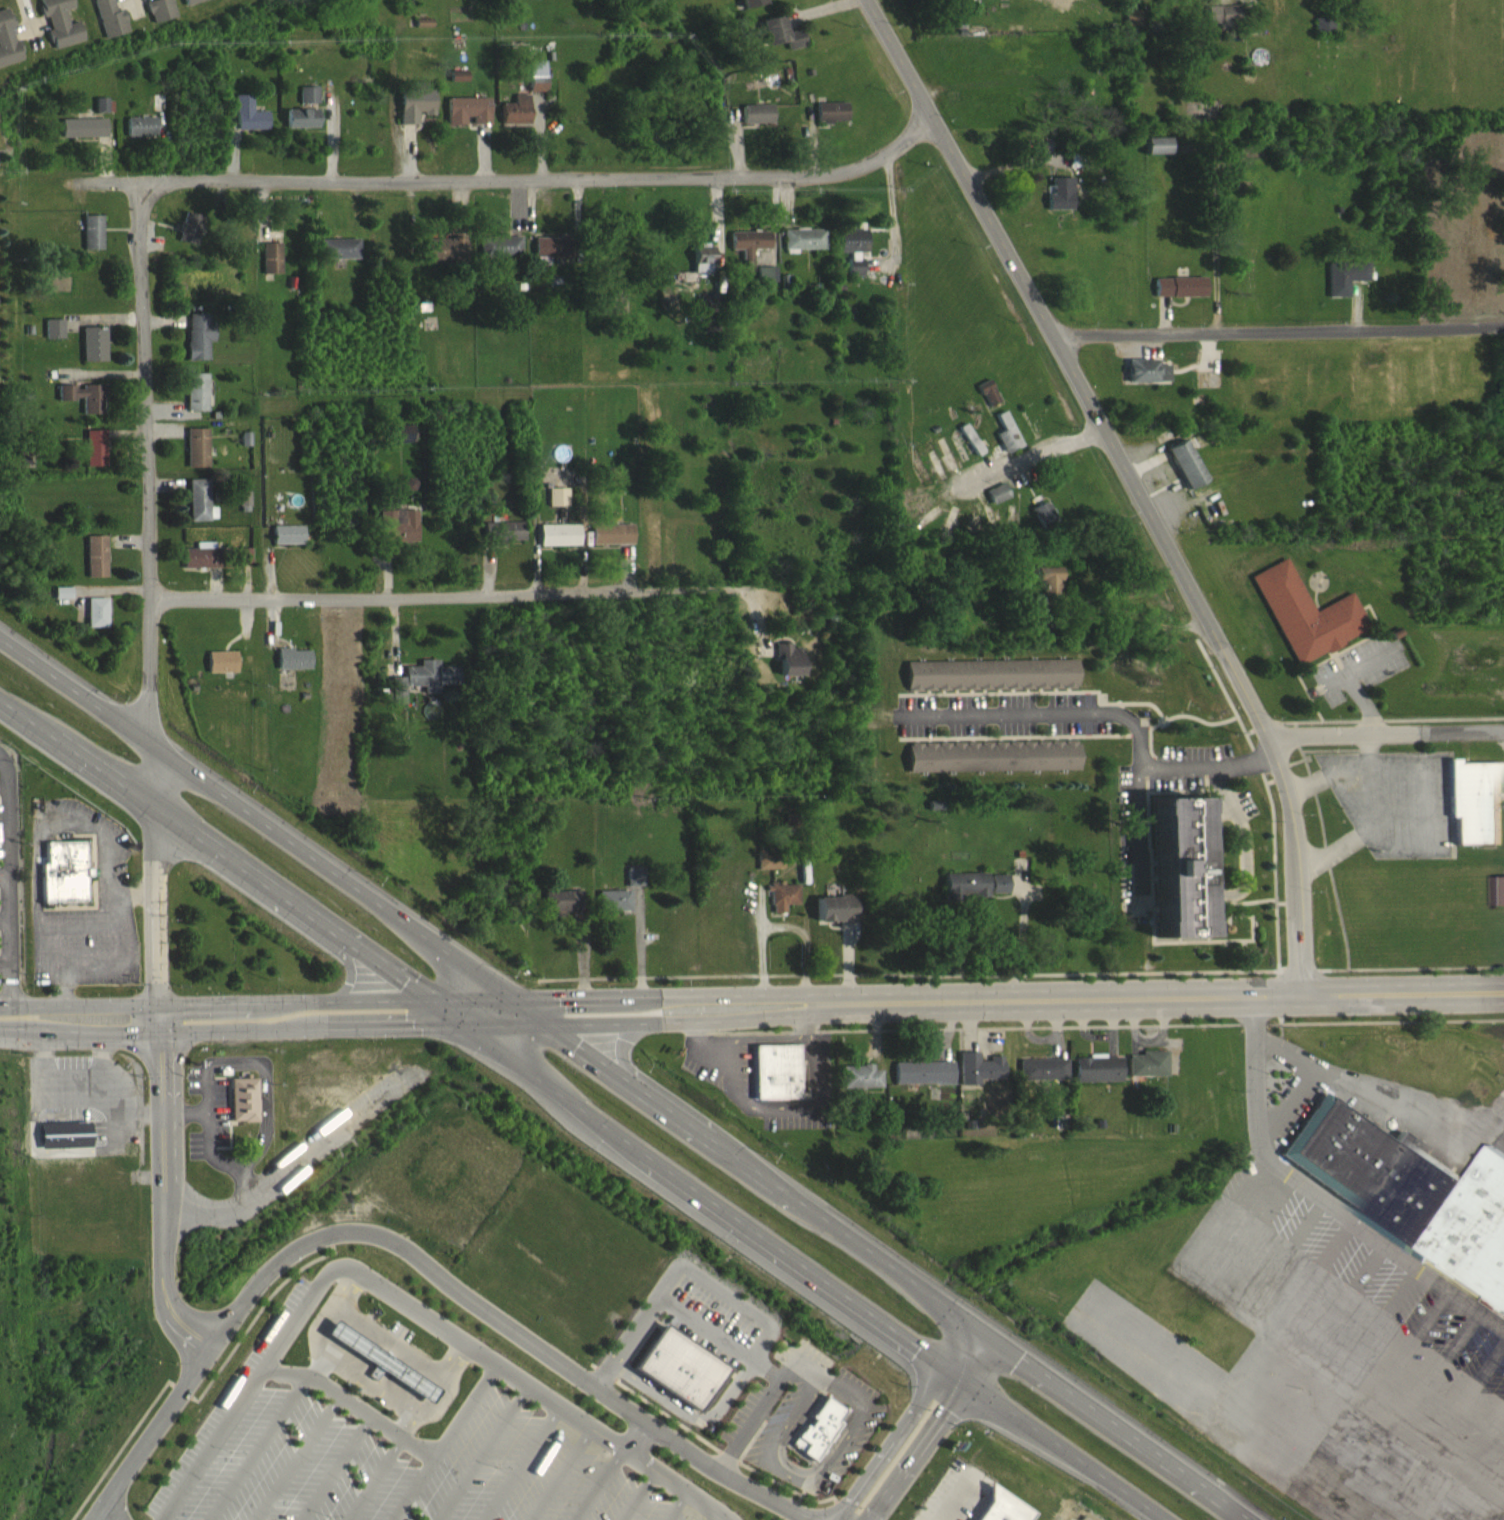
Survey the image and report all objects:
building: (969, 1)
building: (194, 5)
building: (749, 8)
building: (158, 16)
building: (106, 23)
building: (1222, 25)
building: (1131, 27)
building: (57, 29)
building: (1323, 35)
building: (779, 44)
building: (7, 51)
building: (534, 85)
building: (456, 86)
building: (306, 105)
building: (412, 112)
building: (155, 113)
building: (99, 115)
building: (466, 121)
building: (514, 121)
building: (830, 122)
building: (246, 124)
building: (755, 124)
building: (299, 128)
building: (139, 136)
building: (82, 137)
building: (1155, 155)
road: (542, 176)
road: (109, 181)
building: (1058, 204)
building: (188, 237)
building: (803, 249)
building: (749, 252)
building: (503, 256)
building: (548, 257)
building: (337, 259)
building: (853, 259)
building: (445, 260)
building: (270, 268)
building: (702, 268)
building: (766, 284)
building: (1342, 287)
building: (1178, 297)
building: (708, 314)
road: (1278, 328)
building: (197, 346)
building: (91, 354)
building: (1146, 381)
building: (195, 401)
building: (987, 403)
building: (83, 406)
building: (403, 443)
building: (1006, 443)
building: (970, 449)
building: (195, 457)
building: (94, 458)
road: (1031, 460)
building: (1185, 474)
road: (1135, 480)
building: (615, 485)
road: (148, 496)
building: (997, 503)
building: (556, 507)
building: (198, 510)
building: (243, 511)
building: (1043, 524)
building: (398, 536)
building: (504, 542)
building: (286, 544)
building: (610, 544)
building: (557, 545)
building: (243, 565)
building: (95, 566)
building: (199, 566)
building: (1050, 593)
road: (444, 594)
building: (61, 603)
building: (95, 622)
building: (1306, 624)
building: (292, 669)
building: (787, 669)
building: (221, 672)
building: (991, 685)
building: (429, 686)
building: (398, 700)
road: (1034, 724)
road: (1389, 735)
road: (1139, 764)
building: (991, 766)
parking lot: (1391, 805)
building: (1471, 807)
road: (278, 828)
road: (211, 849)
building: (768, 871)
building: (63, 873)
road: (4, 878)
building: (1176, 878)
road: (7, 884)
building: (633, 887)
road: (1218, 889)
building: (998, 894)
building: (964, 895)
building: (782, 906)
road: (159, 908)
building: (561, 910)
building: (612, 910)
building: (833, 918)
road: (3, 962)
road: (346, 968)
road: (1406, 994)
road: (626, 997)
traffic signals: (423, 998)
road: (1067, 998)
traffic signals: (521, 1001)
road: (211, 1003)
traffic signals: (160, 1004)
road: (160, 1018)
road: (694, 1021)
road: (358, 1022)
traffic signals: (461, 1023)
traffic signals: (557, 1026)
road: (80, 1032)
traffic signals: (161, 1032)
road: (624, 1046)
building: (1152, 1063)
building: (1102, 1068)
building: (1046, 1069)
building: (779, 1072)
building: (977, 1078)
building: (1041, 1079)
building: (921, 1083)
building: (859, 1087)
building: (243, 1100)
building: (1062, 1121)
building: (1103, 1123)
building: (1176, 1128)
road: (263, 1129)
building: (69, 1134)
road: (311, 1151)
road: (772, 1178)
road: (691, 1185)
road: (240, 1186)
building: (1409, 1191)
road: (1316, 1196)
road: (164, 1197)
road: (204, 1211)
road: (730, 1295)
road: (410, 1305)
road: (502, 1319)
road: (644, 1324)
road: (709, 1328)
traffic signals: (988, 1332)
road: (768, 1342)
road: (394, 1343)
road: (973, 1353)
road: (795, 1361)
building: (386, 1362)
gas station: (386, 1362)
road: (321, 1363)
building: (368, 1364)
building: (683, 1368)
traffic signals: (959, 1374)
road: (374, 1382)
road: (202, 1391)
road: (355, 1405)
road: (708, 1418)
road: (793, 1418)
road: (858, 1419)
road: (757, 1420)
road: (410, 1425)
road: (1121, 1426)
road: (157, 1428)
building: (822, 1429)
road: (696, 1435)
road: (640, 1439)
road: (448, 1443)
road: (908, 1446)
road: (1062, 1447)
road: (263, 1448)
road: (486, 1453)
parking lot: (393, 1455)
road: (301, 1458)
road: (730, 1461)
road: (788, 1462)
road: (525, 1464)
road: (339, 1469)
road: (563, 1474)
road: (796, 1478)
road: (377, 1479)
road: (602, 1484)
road: (640, 1496)
road: (824, 1500)
road: (679, 1506)
building: (1007, 1507)
road: (102, 1516)
road: (110, 1516)
road: (717, 1516)

